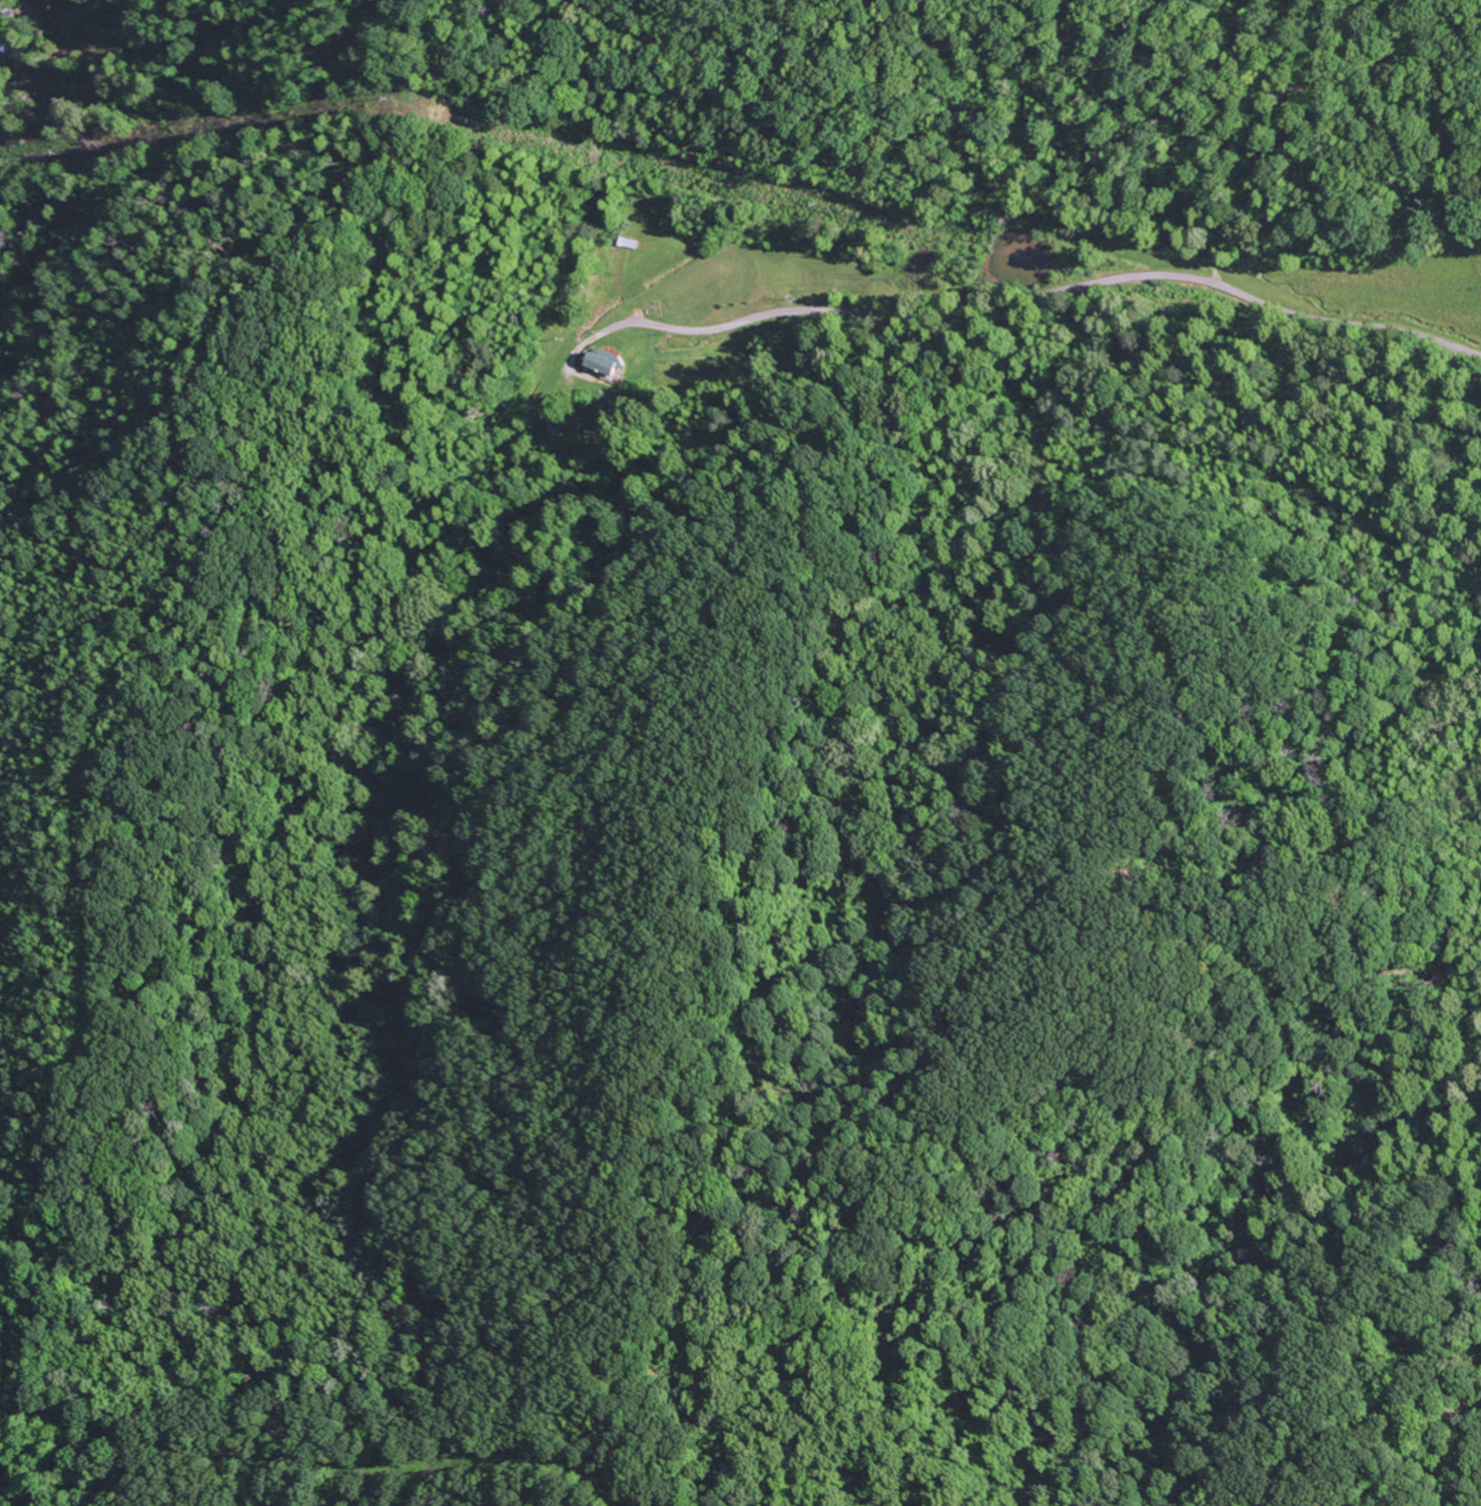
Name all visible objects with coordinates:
road: (1028, 300)
building: (596, 360)

